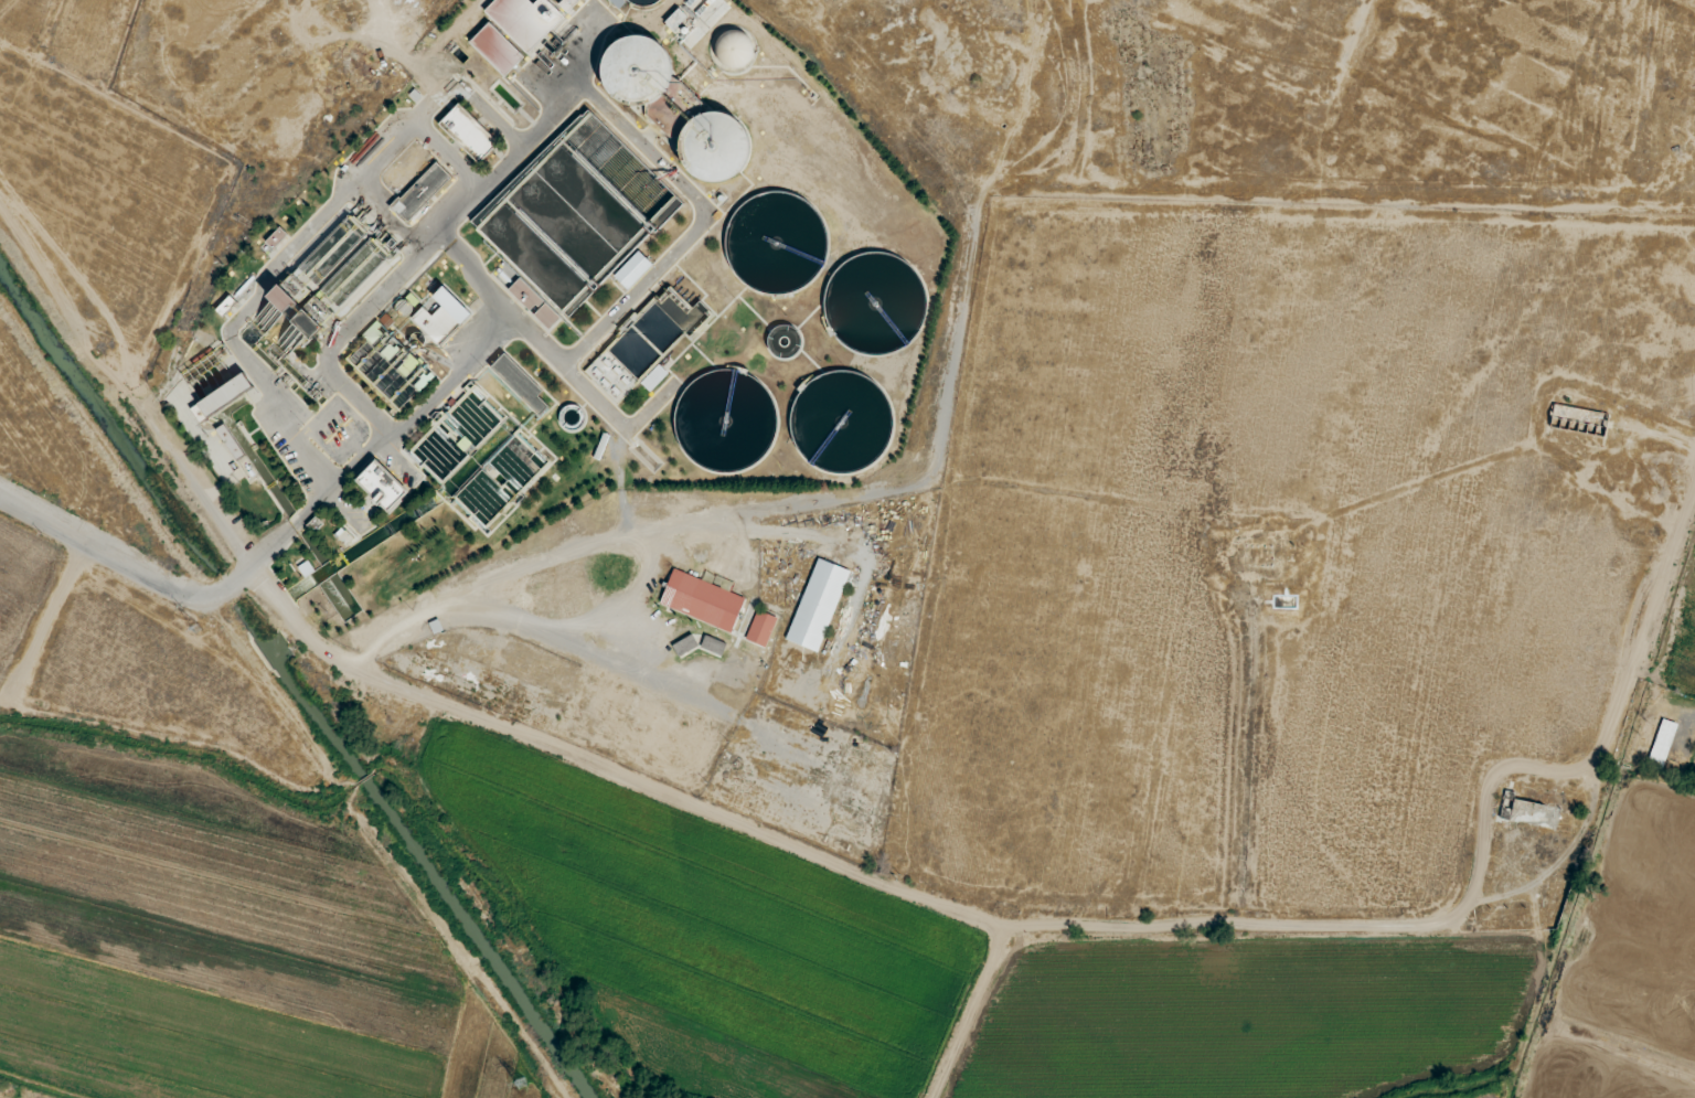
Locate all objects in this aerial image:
wastewater plant: (547, 291)
power tower: (194, 626)
road: (1648, 626)
power tower: (515, 1087)

